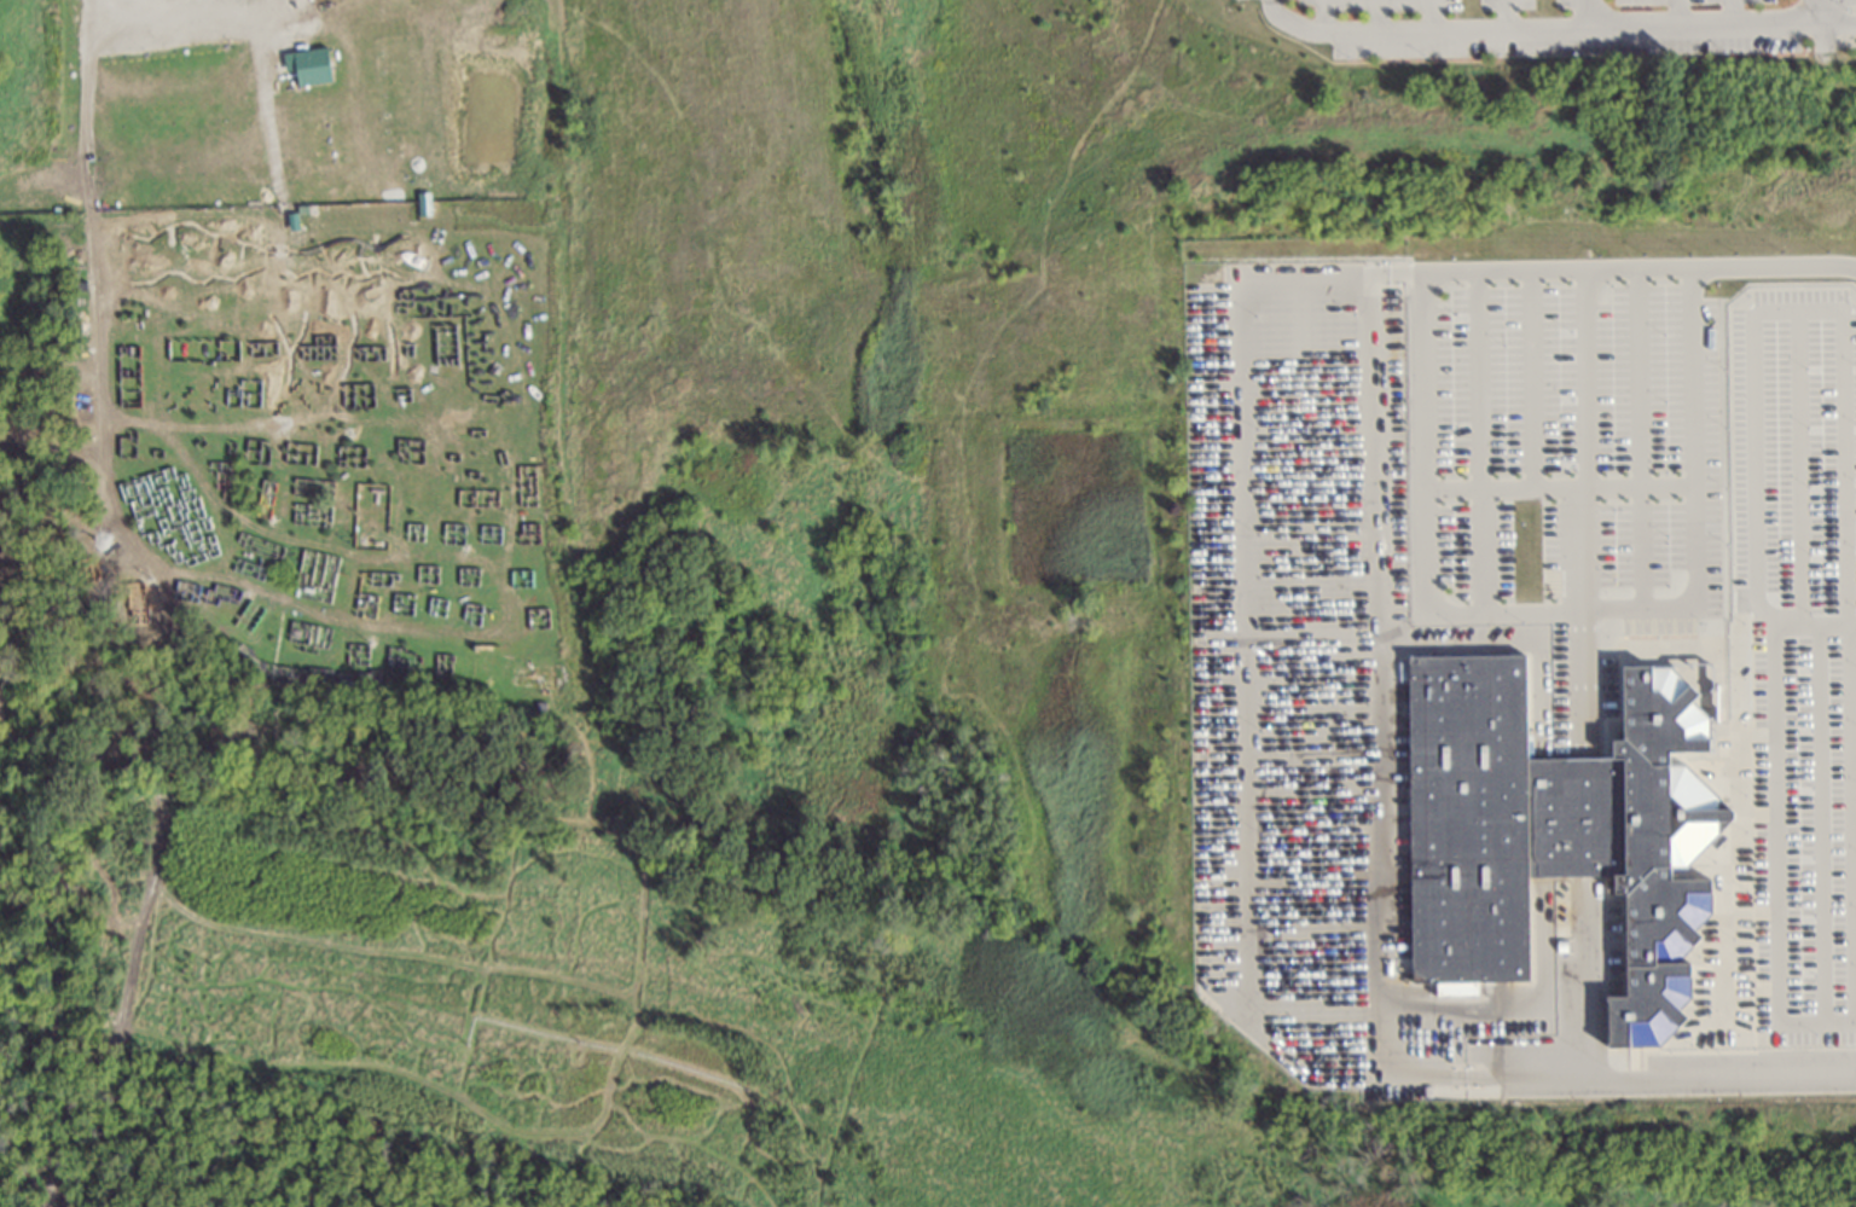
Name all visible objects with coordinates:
road: (1820, 10)
road: (173, 12)
road: (1501, 14)
road: (1703, 22)
road: (1414, 33)
building: (309, 65)
building: (424, 204)
road: (1420, 367)
road: (1573, 440)
road: (1687, 493)
road: (1376, 675)
road: (1241, 726)
road: (1584, 814)
building: (1551, 829)
road: (1612, 1080)
river: (50, 1193)

